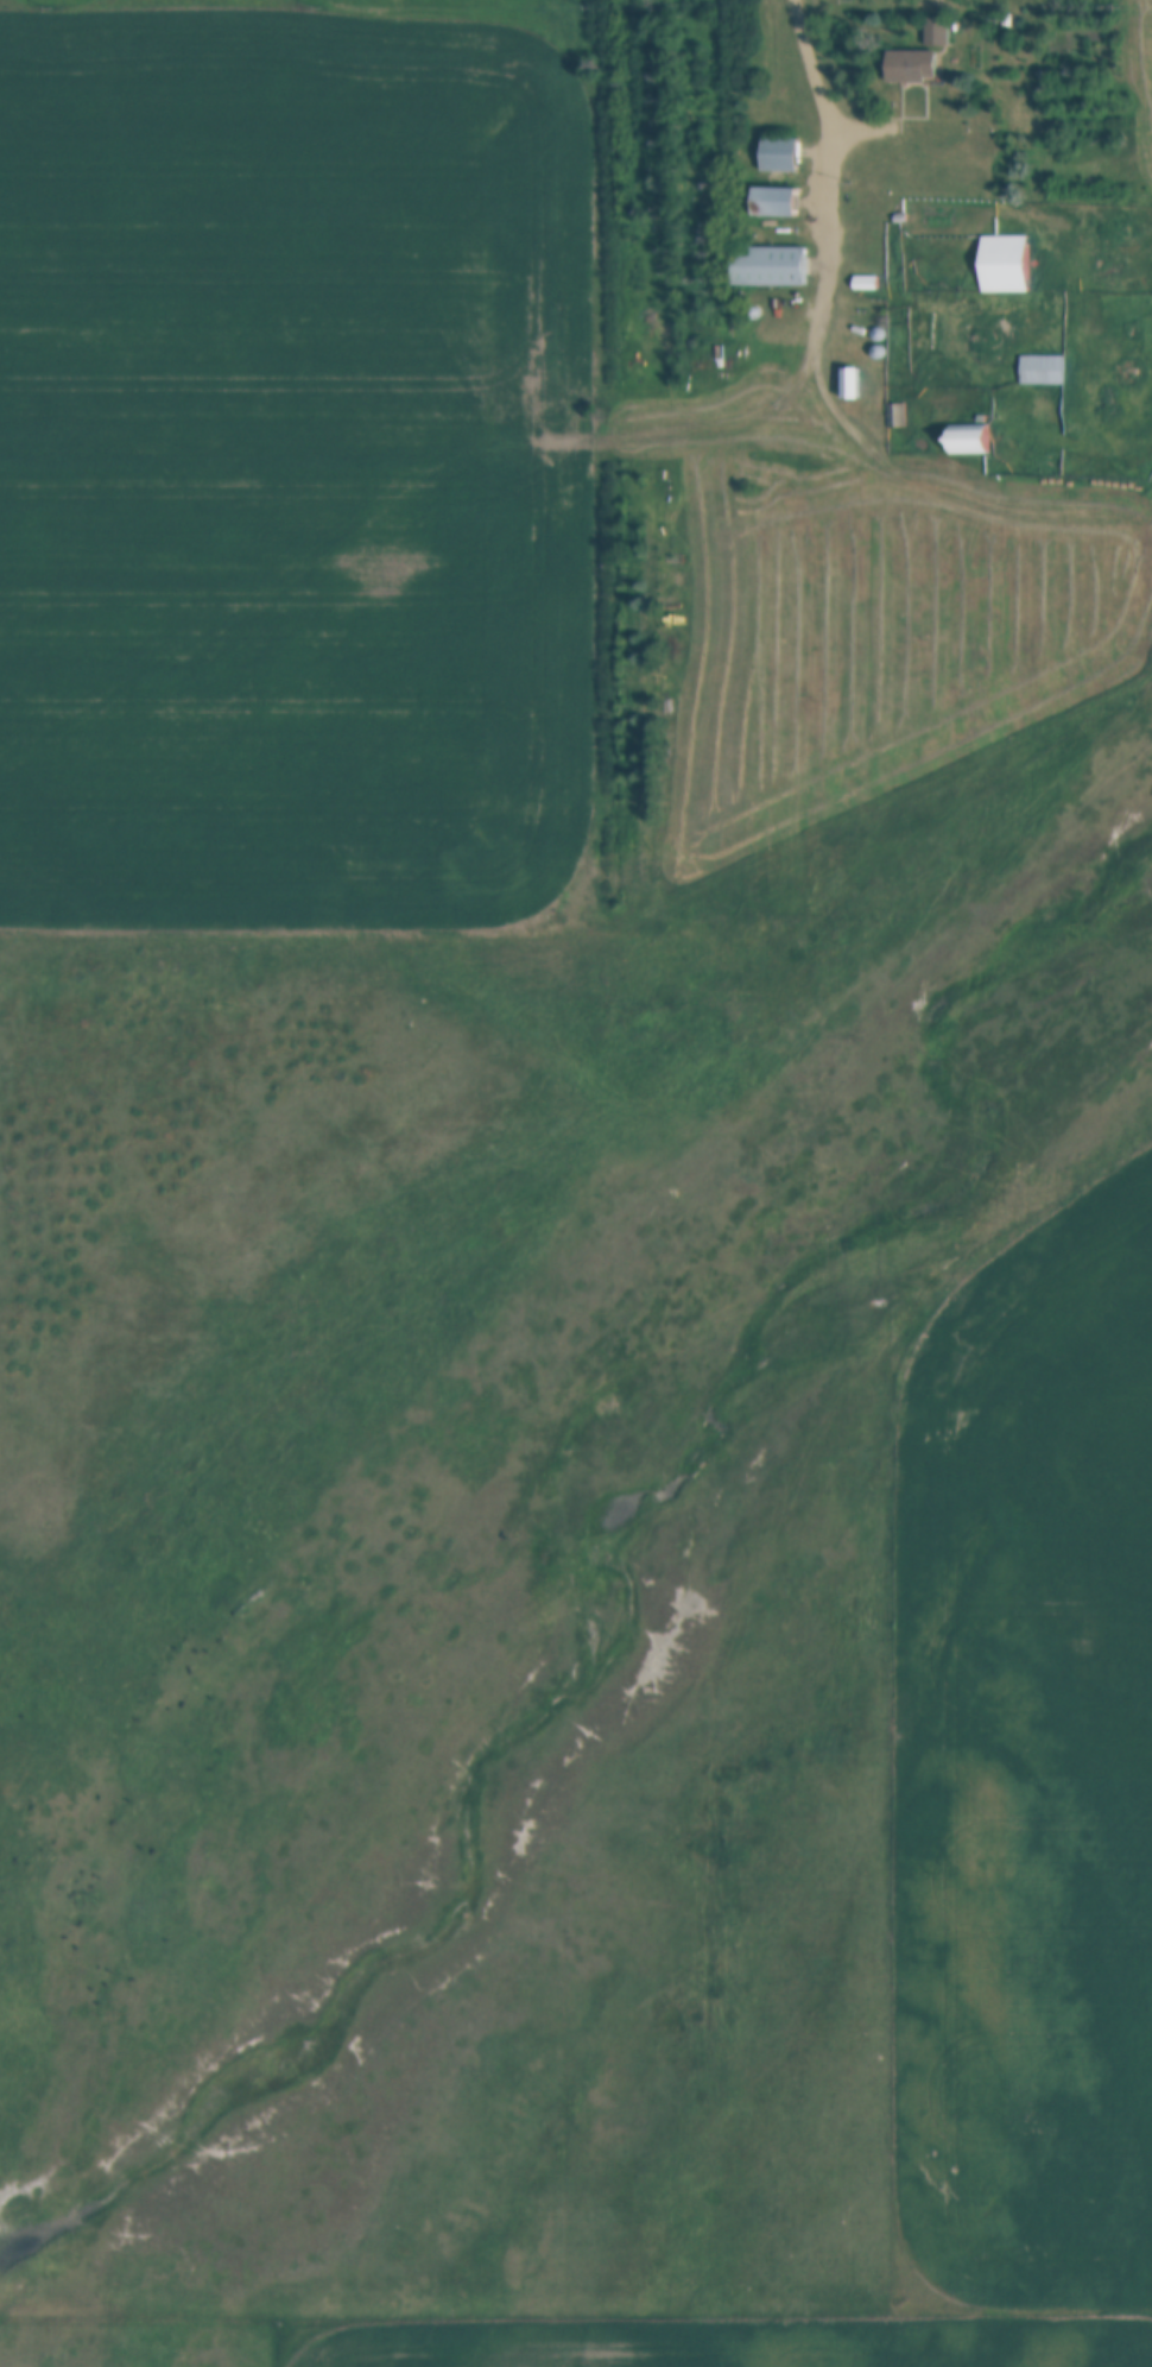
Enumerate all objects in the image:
building: (936, 32)
building: (910, 67)
building: (776, 156)
building: (770, 202)
building: (766, 266)
road: (834, 267)
building: (1004, 279)
building: (1040, 371)
building: (847, 384)

